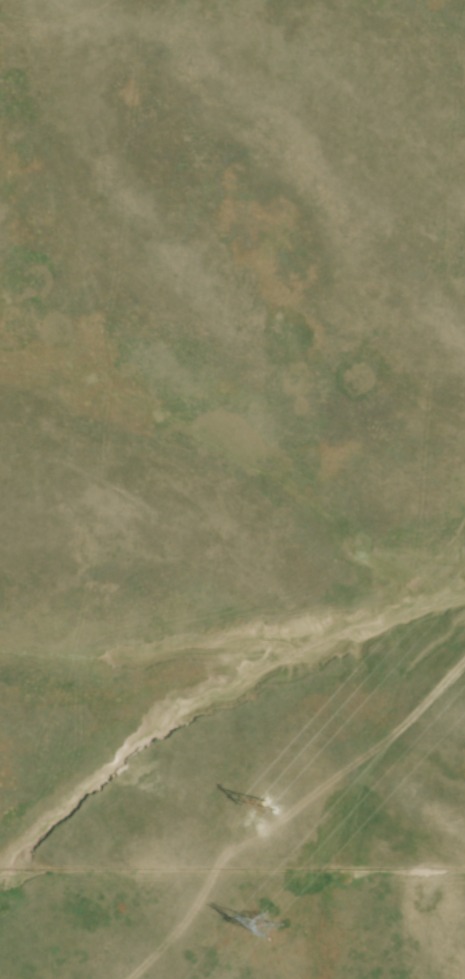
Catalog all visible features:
power tower: (255, 820)
power tower: (267, 924)

